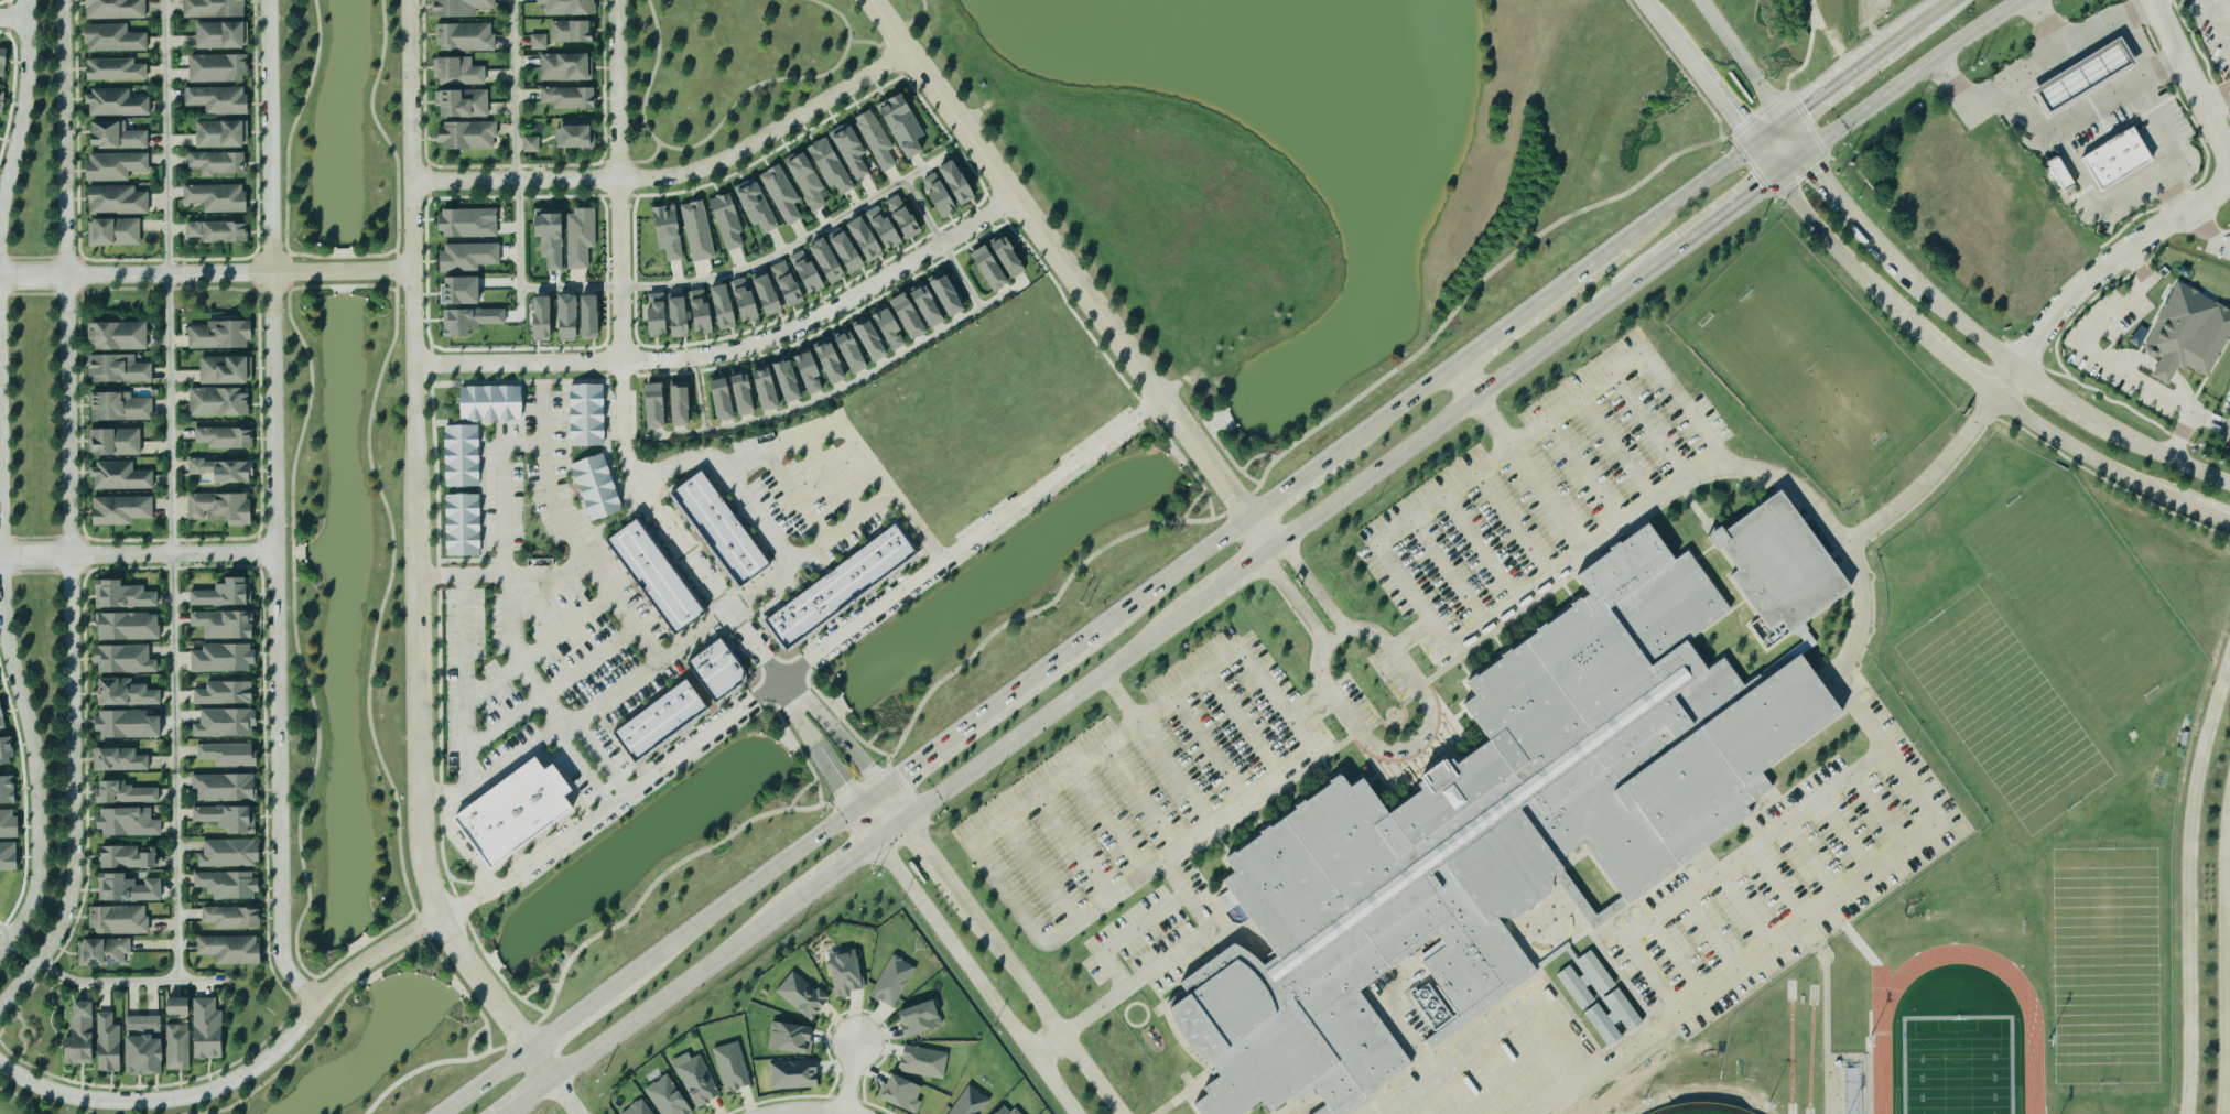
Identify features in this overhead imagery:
park: (900, 4)
building: (461, 7)
building: (570, 7)
building: (214, 8)
building: (116, 9)
road: (1934, 17)
road: (14, 18)
road: (2054, 22)
road: (2218, 23)
building: (574, 30)
building: (221, 35)
building: (465, 36)
road: (1836, 37)
building: (113, 39)
road: (1674, 41)
building: (538, 42)
road: (875, 42)
road: (1893, 46)
building: (3, 61)
road: (1740, 61)
road: (2165, 65)
building: (565, 66)
road: (2035, 66)
building: (218, 68)
park: (730, 68)
building: (115, 69)
building: (457, 71)
road: (1917, 74)
building: (2088, 76)
road: (1829, 89)
building: (1, 96)
building: (569, 97)
building: (218, 99)
road: (2217, 99)
building: (463, 102)
building: (116, 104)
road: (2099, 104)
road: (23, 110)
road: (1729, 112)
road: (722, 122)
traffic signals: (1784, 122)
building: (903, 126)
building: (220, 133)
building: (575, 133)
road: (1768, 133)
road: (290, 134)
road: (386, 134)
building: (118, 136)
building: (468, 136)
road: (1795, 138)
building: (877, 139)
building: (531, 144)
traffic signals: (1753, 144)
building: (852, 149)
road: (517, 152)
traffic signals: (1807, 153)
road: (643, 160)
road: (1764, 160)
building: (2119, 160)
building: (218, 163)
building: (831, 164)
road: (1791, 164)
building: (115, 165)
traffic signals: (1776, 175)
road: (676, 177)
building: (809, 182)
road: (1829, 183)
road: (2146, 186)
building: (950, 187)
building: (782, 194)
road: (1688, 194)
building: (217, 197)
building: (117, 199)
building: (757, 204)
road: (2193, 209)
road: (1726, 210)
building: (727, 220)
building: (897, 221)
building: (469, 223)
road: (2207, 229)
building: (697, 230)
building: (113, 231)
building: (218, 231)
building: (668, 231)
building: (551, 235)
building: (581, 237)
building: (868, 237)
road: (2224, 240)
road: (941, 245)
building: (848, 248)
building: (469, 257)
building: (1002, 261)
building: (821, 266)
road: (736, 270)
road: (1070, 273)
road: (207, 274)
building: (790, 282)
building: (465, 290)
building: (768, 292)
road: (1933, 294)
building: (930, 304)
road: (1538, 306)
building: (703, 310)
building: (571, 317)
building: (593, 317)
building: (544, 318)
building: (472, 321)
building: (891, 326)
building: (2190, 334)
building: (221, 335)
building: (118, 336)
road: (734, 349)
building: (843, 355)
road: (2107, 360)
road: (619, 364)
park: (1810, 365)
building: (118, 369)
building: (225, 370)
road: (1978, 381)
road: (848, 383)
road: (1464, 383)
road: (2010, 383)
building: (767, 388)
road: (701, 394)
road: (2058, 394)
road: (1474, 397)
building: (726, 399)
building: (219, 402)
building: (492, 403)
building: (669, 404)
building: (120, 407)
building: (587, 414)
road: (1390, 414)
road: (1492, 420)
road: (2208, 420)
road: (820, 435)
building: (225, 437)
building: (115, 442)
road: (2162, 453)
building: (463, 455)
building: (224, 469)
building: (120, 477)
road: (545, 477)
road: (832, 477)
road: (728, 478)
road: (1930, 479)
building: (598, 487)
road: (1288, 488)
road: (504, 489)
road: (174, 490)
road: (795, 496)
road: (275, 506)
building: (221, 508)
building: (121, 510)
road: (68, 518)
road: (845, 523)
building: (464, 524)
building: (719, 529)
road: (1379, 540)
road: (138, 555)
road: (415, 560)
road: (1180, 569)
road: (1241, 570)
road: (548, 572)
road: (462, 575)
building: (656, 578)
building: (838, 588)
road: (543, 593)
building: (224, 594)
building: (123, 595)
park: (2081, 596)
road: (383, 599)
road: (1290, 599)
road: (1194, 604)
road: (1325, 605)
building: (226, 624)
building: (129, 626)
road: (294, 630)
road: (1410, 634)
road: (695, 635)
road: (540, 647)
road: (519, 655)
road: (658, 657)
building: (223, 658)
building: (125, 659)
road: (803, 661)
building: (717, 671)
road: (465, 681)
road: (553, 689)
building: (126, 693)
building: (225, 693)
road: (1119, 697)
road: (22, 705)
park: (2003, 712)
road: (984, 713)
road: (1043, 717)
building: (2, 718)
building: (226, 723)
building: (660, 723)
building: (129, 725)
road: (1243, 727)
road: (835, 729)
road: (815, 744)
road: (1377, 748)
road: (1209, 751)
building: (6, 753)
road: (598, 754)
building: (229, 755)
road: (508, 759)
building: (119, 760)
road: (582, 767)
traffic signals: (901, 775)
road: (1174, 776)
traffic signals: (844, 786)
building: (225, 788)
building: (7, 790)
building: (126, 793)
road: (439, 793)
road: (1141, 799)
building: (513, 815)
building: (228, 818)
building: (128, 822)
building: (8, 823)
road: (1106, 823)
road: (1930, 830)
building: (1497, 831)
traffic signals: (919, 834)
road: (925, 843)
road: (463, 844)
road: (1073, 848)
building: (231, 854)
traffic signals: (860, 854)
building: (9, 856)
building: (125, 858)
road: (844, 865)
road: (1040, 872)
building: (1561, 877)
building: (228, 885)
road: (2189, 885)
building: (128, 889)
road: (1005, 894)
building: (232, 918)
building: (119, 920)
road: (6, 938)
building: (231, 950)
building: (104, 952)
road: (967, 960)
road: (657, 962)
park: (2107, 967)
road: (2228, 969)
building: (847, 973)
road: (128, 981)
building: (890, 981)
building: (1588, 981)
road: (462, 986)
road: (1130, 987)
road: (314, 989)
building: (801, 995)
road: (23, 997)
road: (667, 997)
road: (1043, 1006)
building: (178, 1007)
road: (20, 1017)
building: (921, 1019)
building: (1615, 1019)
track: (1881, 1028)
building: (207, 1030)
building: (80, 1037)
road: (30, 1038)
road: (311, 1038)
road: (472, 1038)
building: (791, 1038)
building: (156, 1047)
road: (435, 1062)
building: (924, 1062)
park: (1959, 1067)
building: (732, 1068)
road: (242, 1074)
building: (792, 1074)
road: (849, 1078)
building: (697, 1082)
building: (905, 1094)
road: (23, 1096)
building: (667, 1096)
road: (531, 1099)
road: (564, 1099)
building: (971, 1102)
park: (1700, 1102)
building: (637, 1108)
road: (812, 1111)
building: (1005, 1111)

